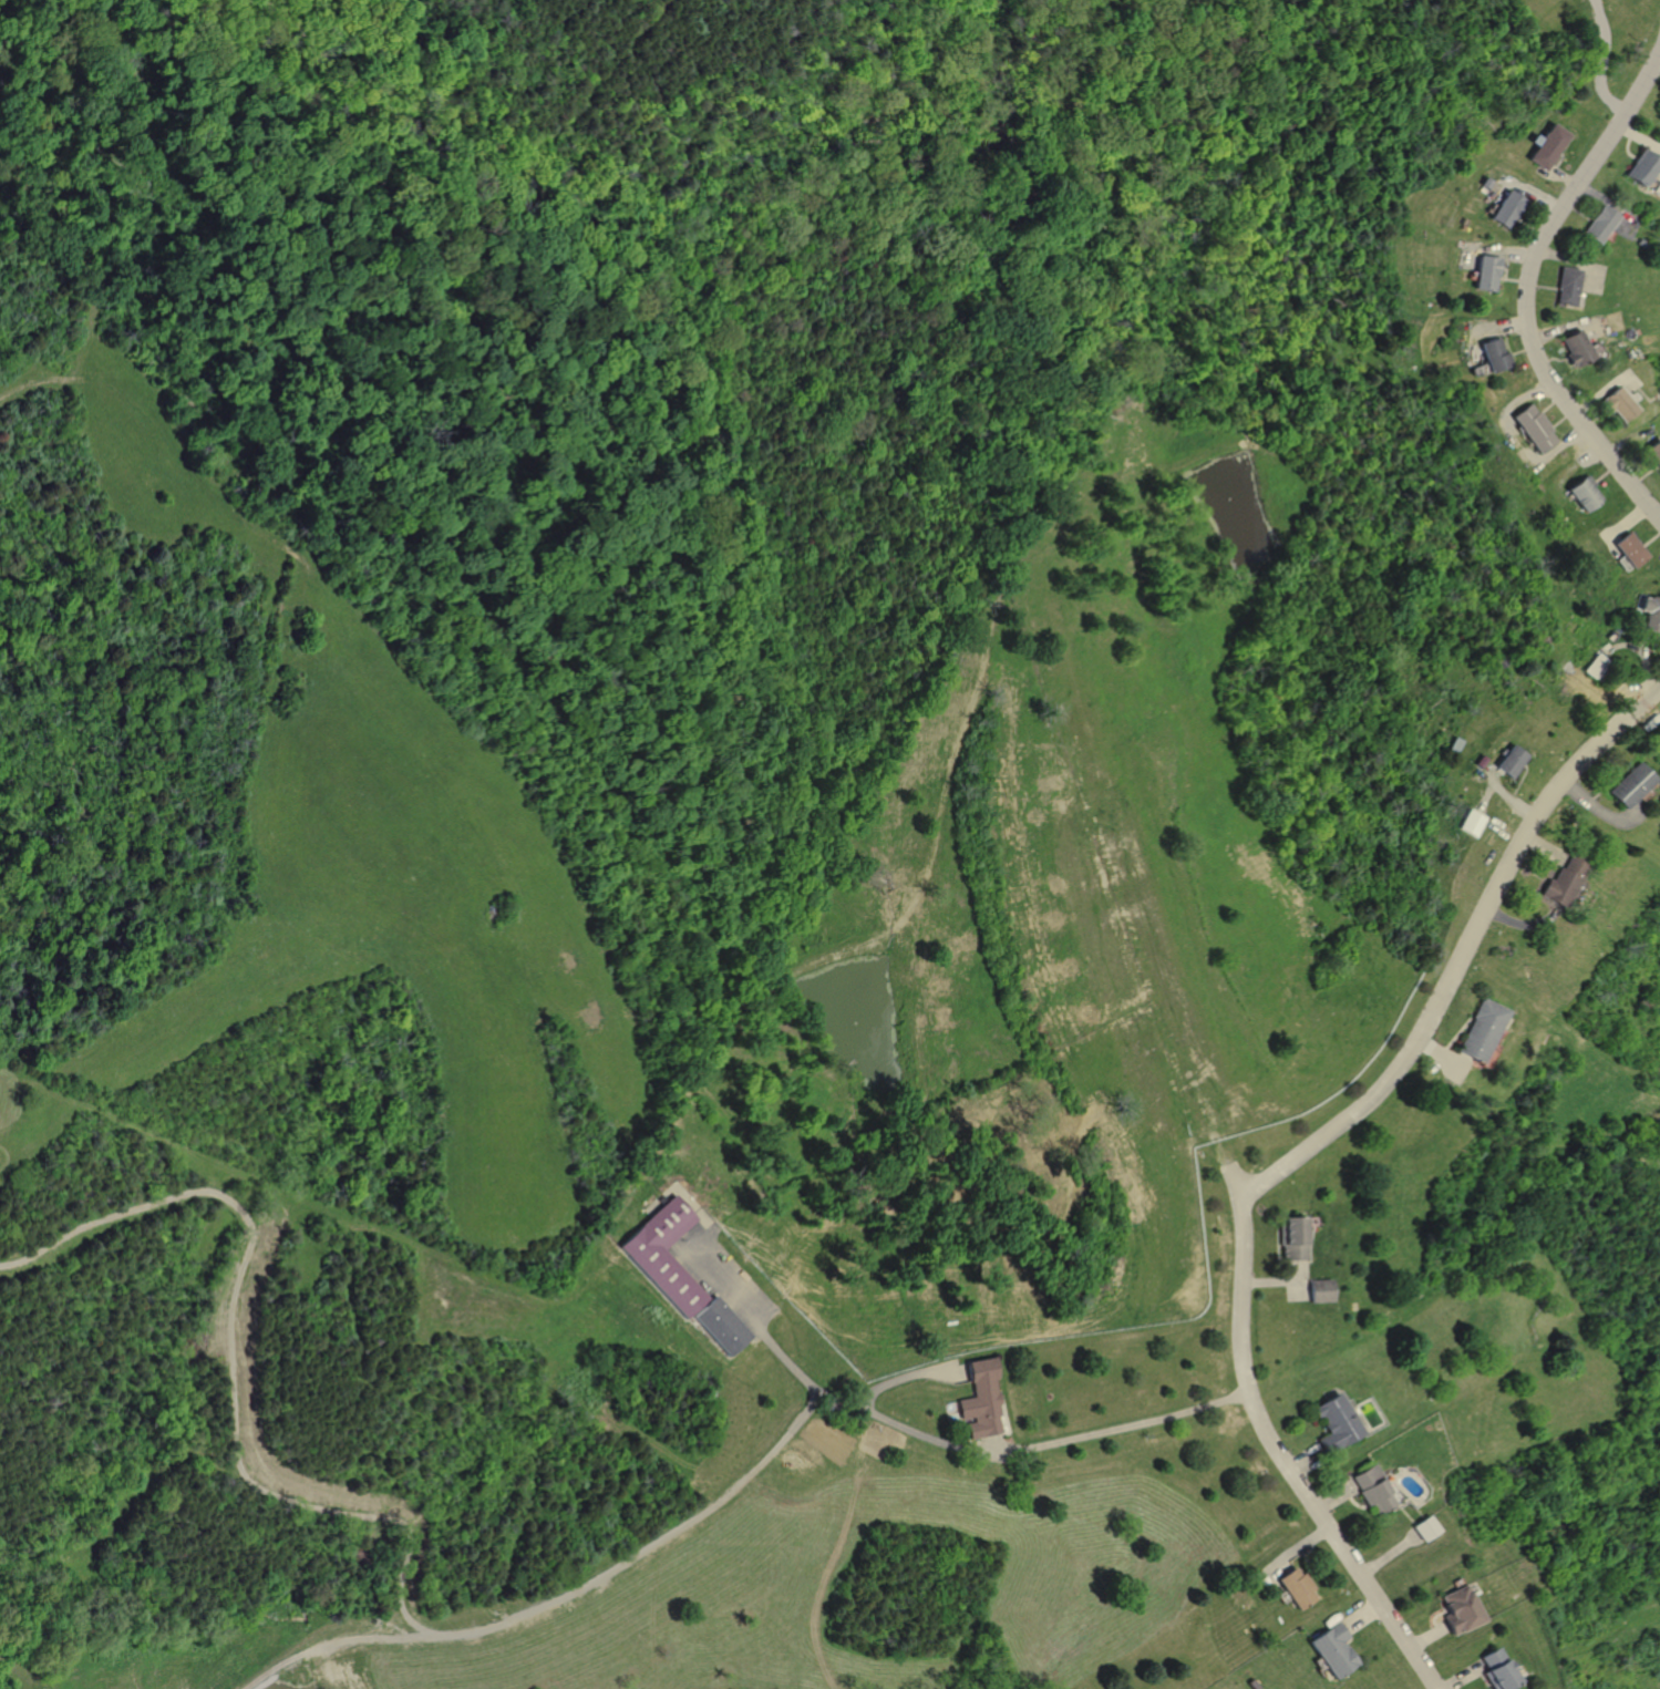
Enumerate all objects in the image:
road: (1599, 61)
building: (1546, 146)
building: (1639, 166)
building: (1503, 208)
building: (1597, 223)
building: (1483, 271)
road: (1525, 285)
building: (1565, 285)
building: (1576, 347)
building: (1492, 353)
building: (1616, 403)
building: (1533, 425)
building: (1652, 454)
building: (1582, 491)
building: (1629, 549)
building: (1651, 615)
building: (1597, 668)
building: (1508, 761)
building: (1627, 784)
building: (1470, 823)
building: (1561, 882)
road: (1461, 949)
building: (1477, 1030)
building: (1291, 1239)
building: (658, 1256)
building: (1318, 1291)
building: (715, 1327)
building: (978, 1402)
building: (1333, 1424)
road: (1271, 1445)
road: (742, 1475)
building: (1369, 1491)
building: (1422, 1528)
building: (1293, 1589)
building: (1455, 1610)
building: (1329, 1651)
building: (1492, 1670)

